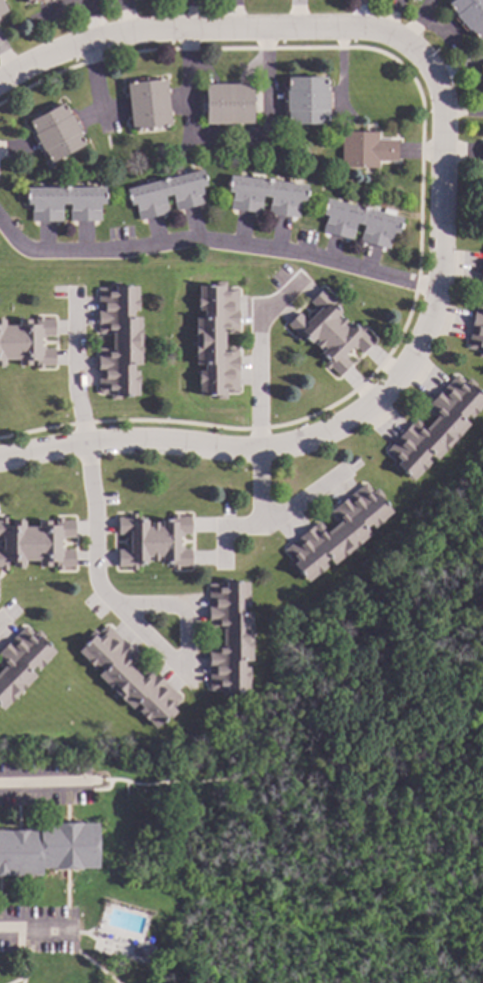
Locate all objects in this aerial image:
building: (415, 0)
building: (31, 1)
building: (2, 8)
building: (469, 15)
road: (415, 19)
road: (93, 21)
road: (332, 29)
building: (481, 71)
road: (266, 75)
road: (187, 84)
building: (305, 100)
building: (227, 103)
building: (147, 104)
building: (55, 132)
building: (364, 149)
building: (482, 152)
building: (167, 194)
building: (264, 195)
building: (65, 203)
road: (419, 209)
building: (359, 223)
road: (217, 242)
building: (481, 279)
building: (476, 330)
building: (329, 332)
building: (118, 340)
building: (215, 340)
building: (27, 342)
road: (261, 357)
road: (74, 372)
building: (301, 425)
building: (110, 427)
building: (434, 427)
road: (257, 451)
road: (262, 488)
road: (267, 522)
building: (336, 532)
building: (153, 541)
building: (35, 543)
road: (142, 630)
building: (228, 636)
building: (20, 661)
building: (128, 676)
road: (349, 776)
road: (159, 782)
road: (51, 783)
park: (360, 815)
road: (262, 822)
building: (47, 849)
road: (231, 886)
building: (149, 929)
road: (25, 930)
road: (245, 937)

